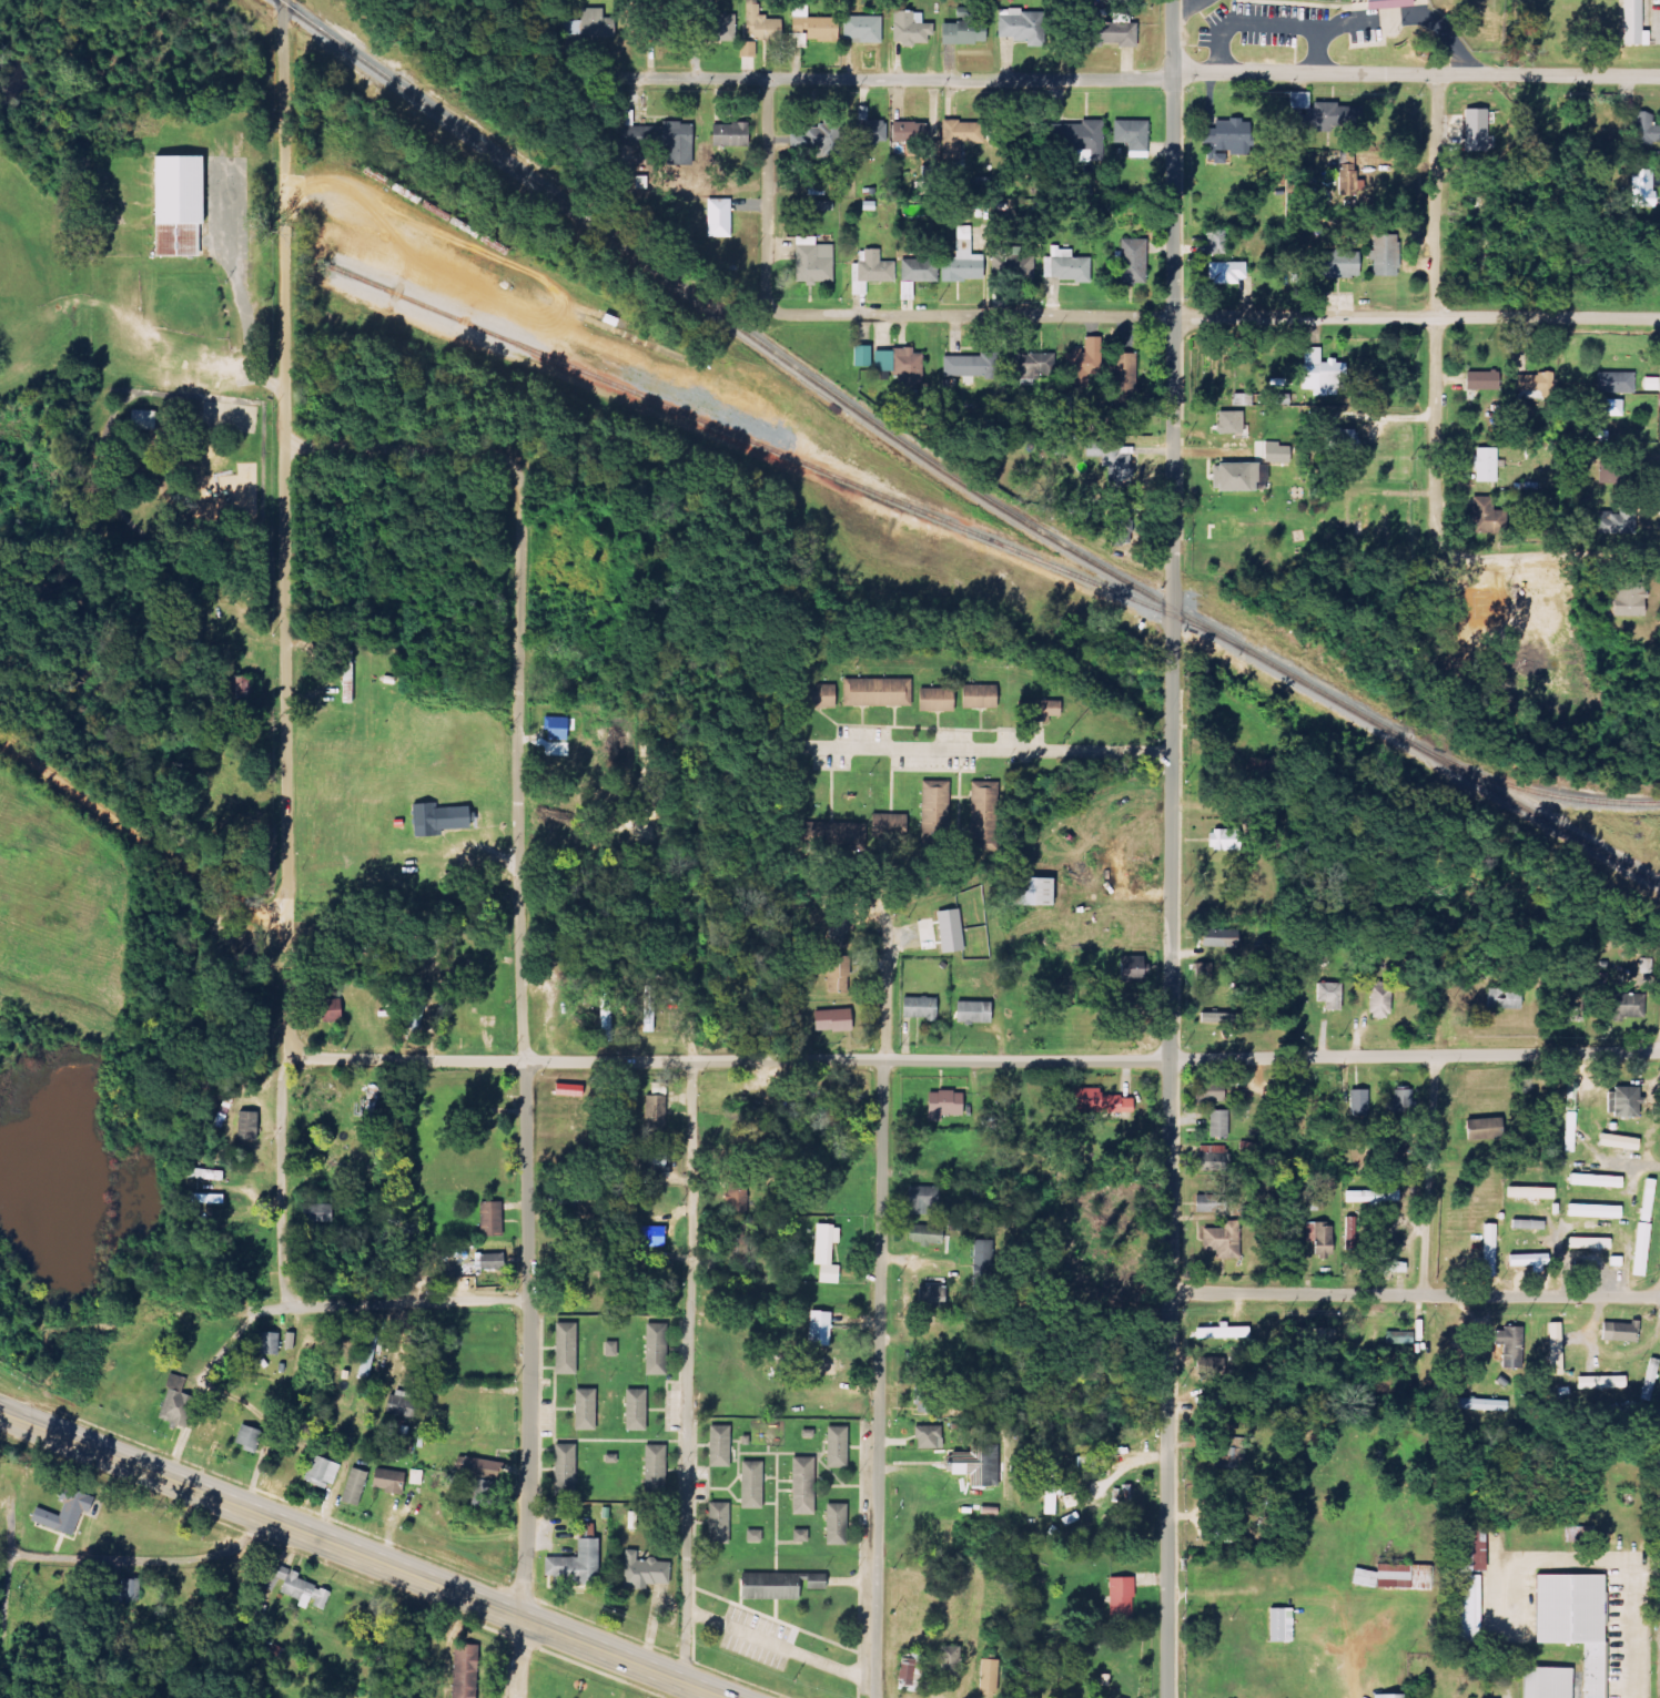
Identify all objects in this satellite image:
building: (1385, 3)
road: (1190, 7)
road: (1410, 16)
building: (1631, 21)
building: (760, 23)
parking lot: (1264, 24)
building: (590, 26)
building: (1018, 26)
road: (1274, 26)
building: (718, 28)
building: (811, 28)
building: (862, 29)
building: (910, 29)
building: (963, 29)
building: (748, 49)
road: (1138, 80)
building: (1313, 113)
building: (1643, 128)
building: (1476, 130)
building: (871, 132)
building: (908, 132)
building: (1131, 134)
building: (729, 135)
building: (1084, 139)
building: (1226, 139)
building: (667, 141)
building: (817, 141)
building: (1642, 187)
road: (767, 195)
building: (175, 205)
building: (719, 218)
building: (1214, 242)
building: (1385, 256)
building: (962, 260)
building: (812, 261)
building: (1132, 261)
building: (1018, 263)
building: (1338, 265)
building: (1065, 266)
building: (870, 271)
building: (919, 271)
building: (1226, 273)
road: (237, 282)
road: (1436, 302)
road: (1215, 317)
park: (1, 324)
building: (861, 356)
building: (882, 360)
building: (1083, 363)
building: (1031, 365)
building: (963, 367)
building: (910, 374)
building: (1322, 374)
building: (1124, 378)
building: (1482, 380)
building: (1535, 383)
building: (1617, 383)
building: (1612, 408)
building: (1229, 423)
building: (1340, 439)
road: (396, 448)
railway: (769, 449)
building: (1276, 453)
building: (1112, 464)
building: (1485, 465)
railway: (948, 475)
building: (1606, 476)
building: (1236, 477)
building: (1486, 516)
building: (1617, 522)
building: (1119, 526)
building: (1629, 599)
road: (285, 654)
building: (347, 677)
building: (877, 692)
building: (818, 697)
building: (979, 697)
building: (935, 700)
building: (1041, 710)
road: (993, 748)
railway: (1530, 790)
building: (436, 819)
building: (981, 819)
road: (143, 825)
building: (890, 825)
building: (848, 833)
building: (1223, 840)
road: (1172, 848)
building: (1032, 892)
building: (950, 931)
building: (837, 934)
building: (1218, 936)
building: (837, 974)
building: (1205, 974)
building: (1329, 996)
building: (1504, 998)
building: (1379, 1000)
building: (1627, 1006)
building: (648, 1008)
building: (919, 1008)
building: (1571, 1008)
building: (417, 1009)
building: (330, 1010)
building: (972, 1013)
building: (606, 1015)
building: (1221, 1018)
building: (832, 1020)
road: (525, 1035)
road: (971, 1060)
building: (567, 1089)
building: (1208, 1091)
building: (1359, 1101)
building: (1397, 1101)
building: (1623, 1101)
building: (1101, 1102)
building: (943, 1105)
building: (654, 1112)
building: (1218, 1123)
building: (246, 1126)
building: (1482, 1128)
building: (1570, 1131)
building: (1619, 1142)
building: (1212, 1158)
building: (656, 1162)
building: (1596, 1180)
building: (1530, 1192)
building: (736, 1197)
building: (1371, 1197)
building: (1647, 1200)
building: (922, 1201)
building: (1211, 1204)
building: (1595, 1211)
building: (492, 1219)
building: (1528, 1224)
building: (1350, 1233)
building: (645, 1236)
building: (924, 1236)
building: (1320, 1239)
building: (737, 1240)
building: (1223, 1241)
building: (1589, 1242)
building: (1640, 1249)
building: (1489, 1250)
building: (826, 1252)
building: (490, 1261)
building: (1525, 1261)
building: (1395, 1267)
road: (1659, 1292)
road: (1415, 1295)
building: (931, 1297)
road: (1423, 1300)
road: (881, 1304)
road: (342, 1306)
building: (819, 1329)
building: (1223, 1332)
building: (1619, 1332)
building: (1399, 1335)
building: (267, 1343)
building: (1510, 1345)
building: (563, 1348)
building: (609, 1349)
building: (652, 1349)
building: (1555, 1349)
building: (368, 1351)
building: (820, 1366)
road: (689, 1372)
building: (1600, 1382)
building: (175, 1403)
building: (402, 1404)
building: (1481, 1404)
building: (1204, 1407)
building: (581, 1409)
building: (632, 1410)
building: (927, 1437)
building: (247, 1438)
building: (717, 1446)
building: (833, 1447)
building: (976, 1465)
building: (1227, 1466)
building: (479, 1468)
building: (561, 1470)
building: (651, 1471)
building: (321, 1472)
building: (416, 1477)
building: (387, 1481)
building: (749, 1484)
building: (800, 1486)
building: (354, 1487)
building: (1051, 1488)
building: (484, 1494)
building: (1127, 1506)
building: (63, 1513)
building: (716, 1523)
building: (833, 1524)
building: (585, 1531)
building: (753, 1536)
building: (799, 1536)
building: (1469, 1550)
road: (362, 1553)
road: (145, 1560)
road: (1603, 1560)
building: (574, 1565)
building: (644, 1572)
building: (1396, 1577)
road: (9, 1585)
building: (775, 1585)
building: (297, 1588)
building: (1121, 1599)
building: (1467, 1609)
building: (1572, 1620)
building: (1279, 1625)
parking lot: (757, 1638)
road: (781, 1647)
road: (520, 1657)
building: (949, 1664)
building: (462, 1670)
building: (910, 1670)
building: (988, 1676)
building: (1545, 1681)
building: (1389, 1696)

